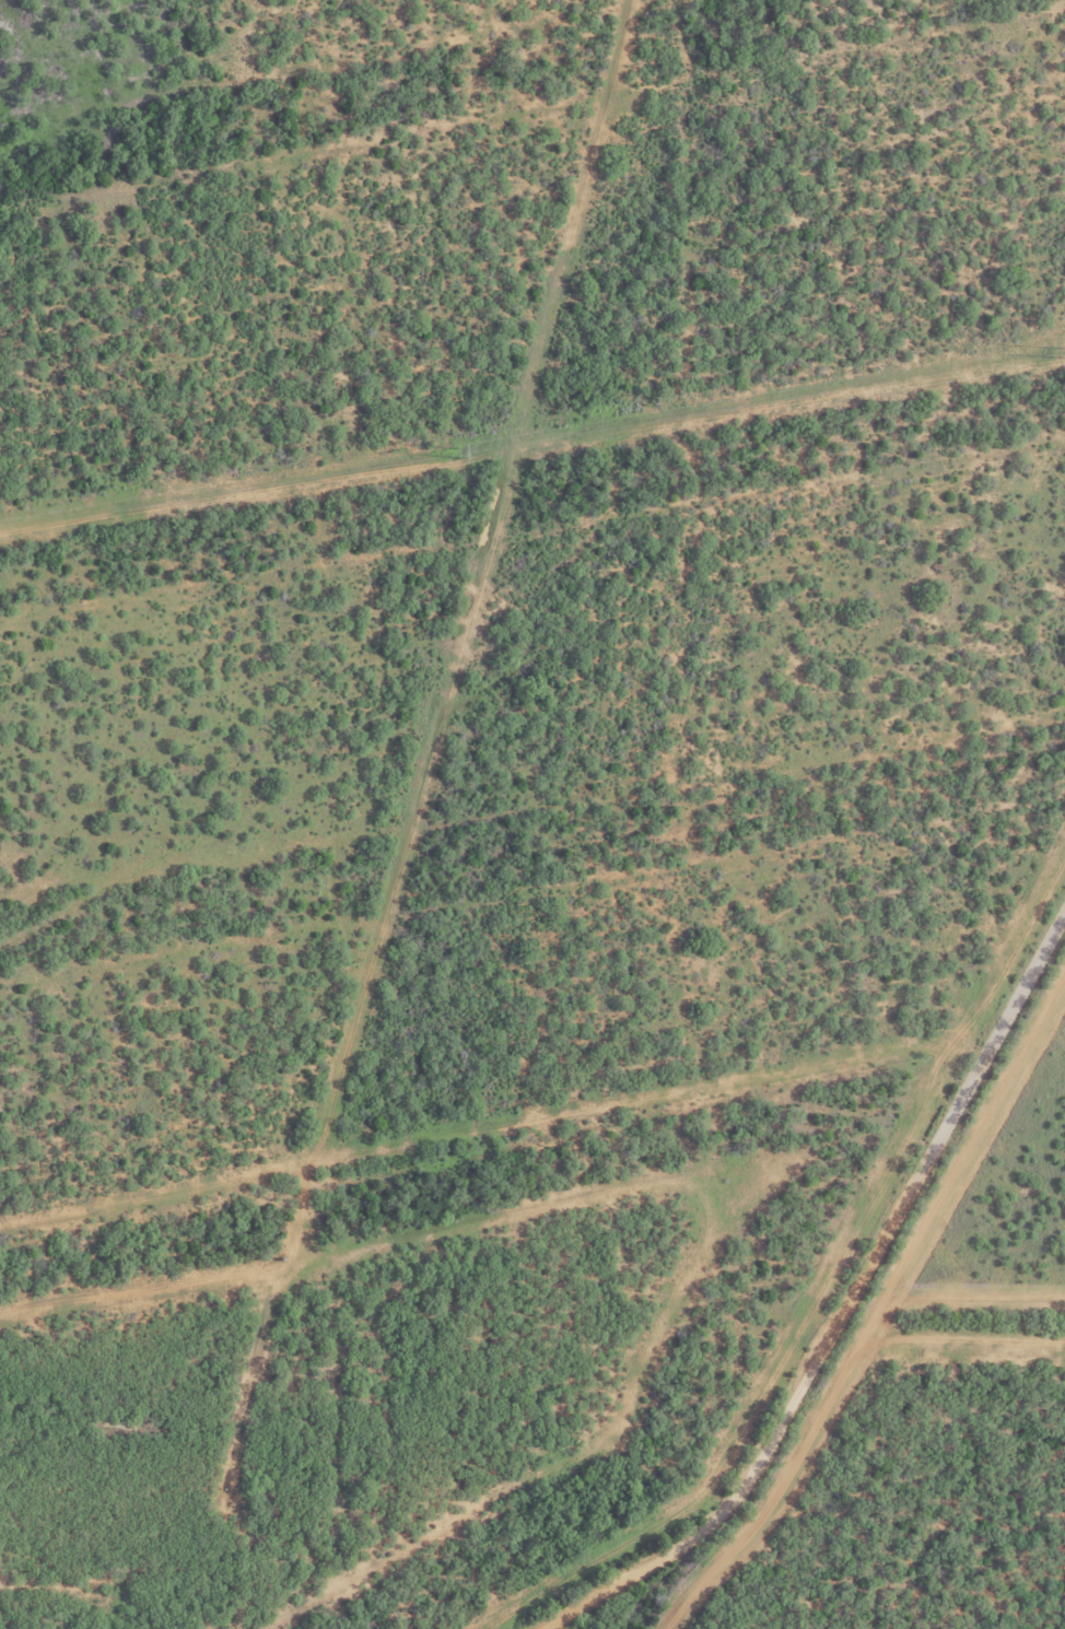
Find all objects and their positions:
power tower: (1048, 352)
power tower: (454, 453)
road: (844, 1308)

